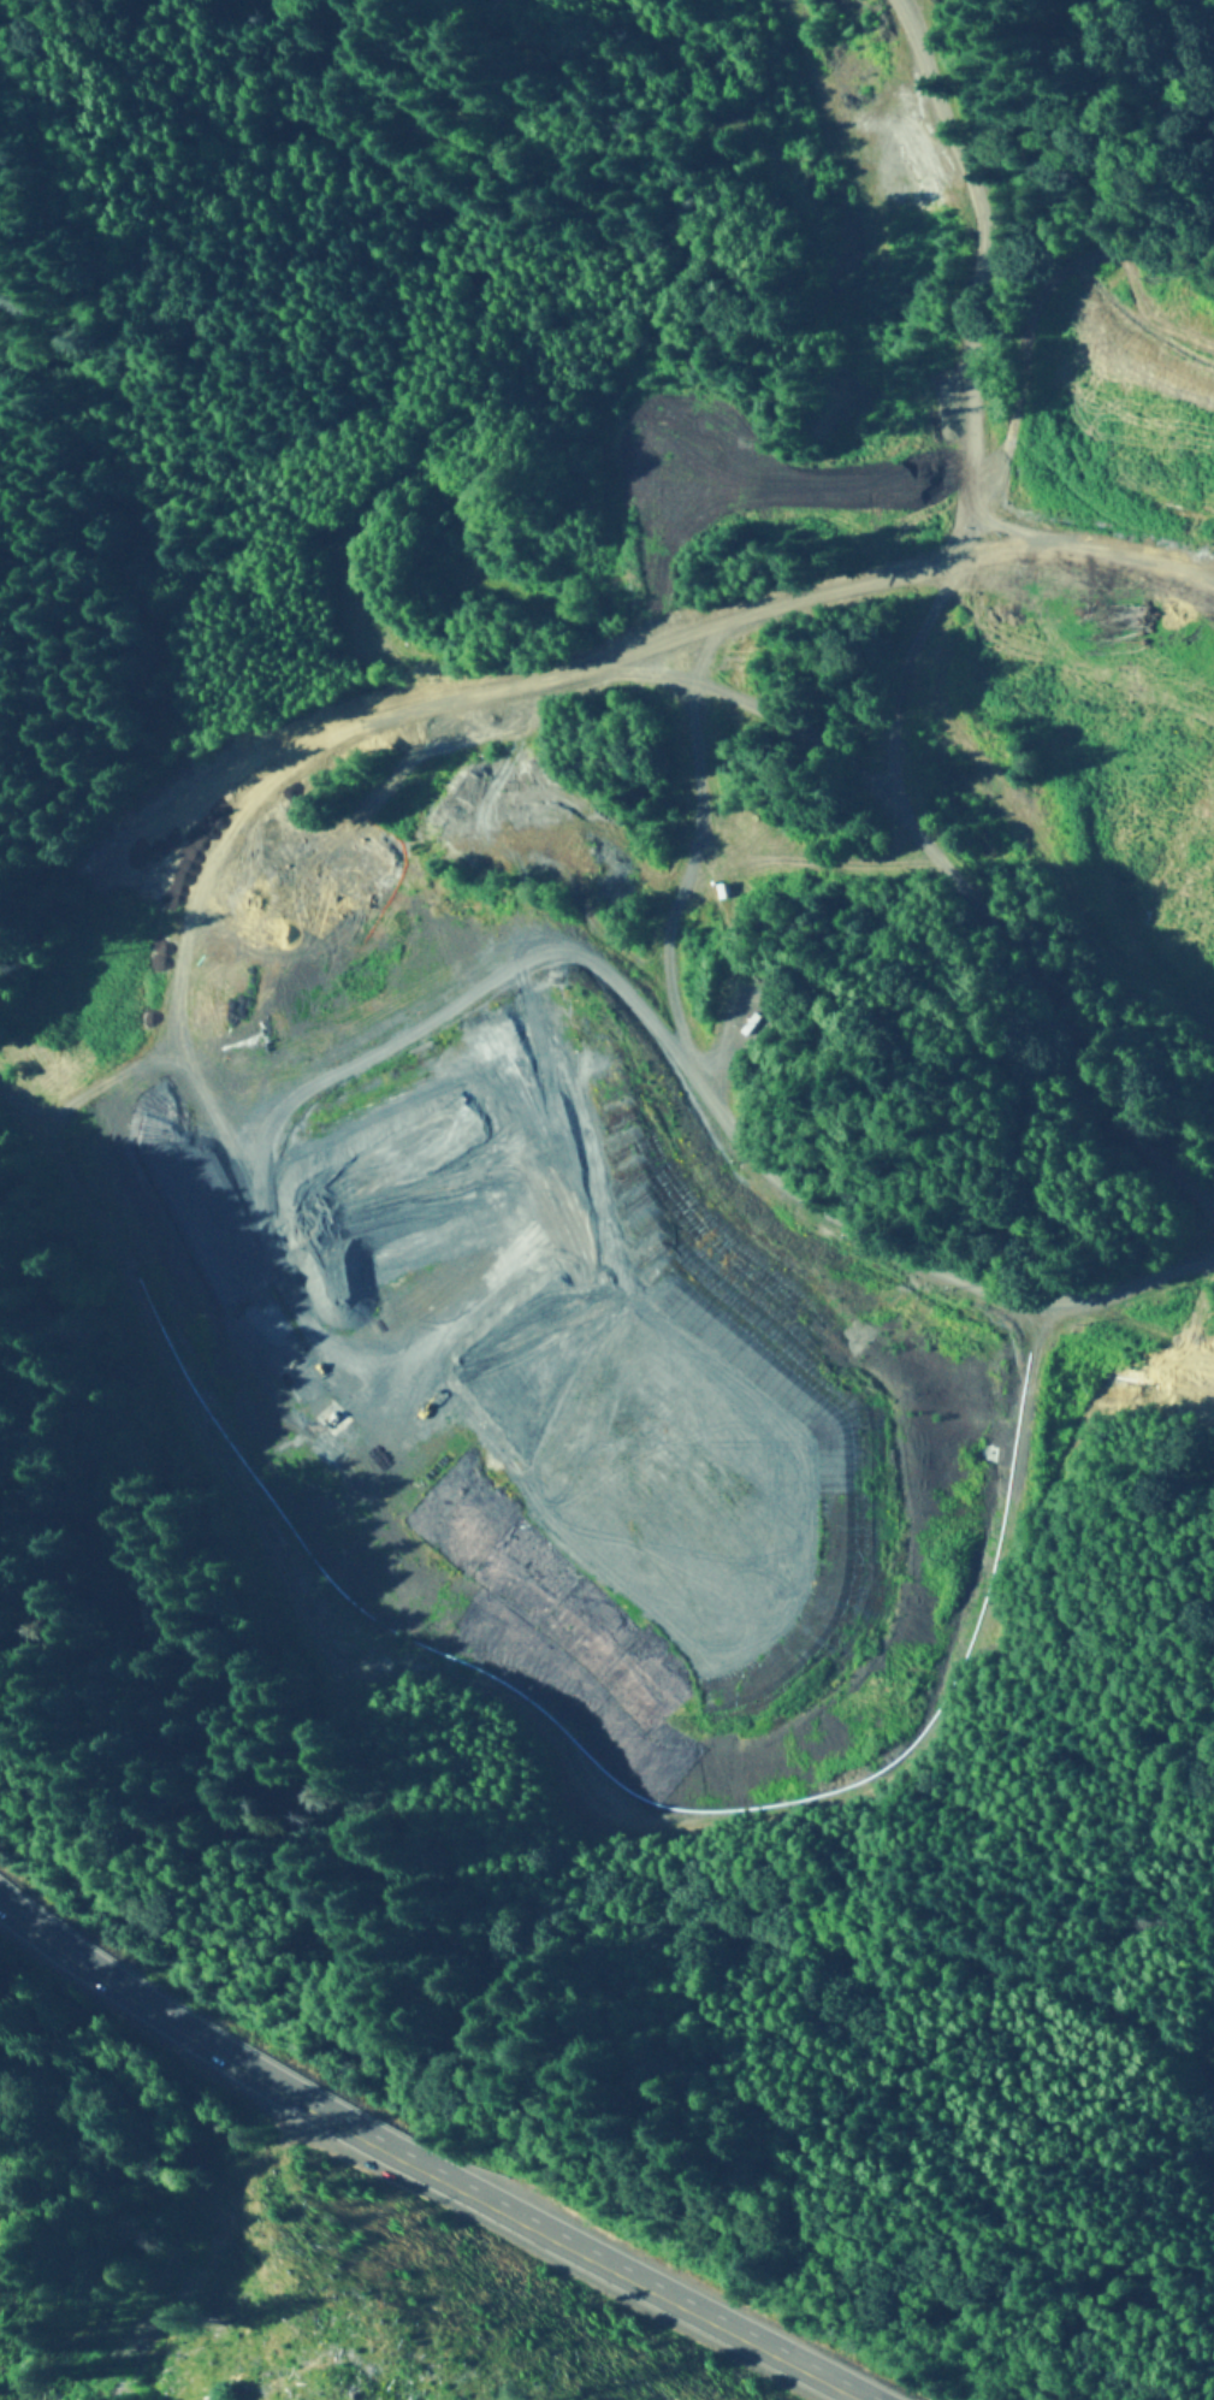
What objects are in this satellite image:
road: (438, 2159)

